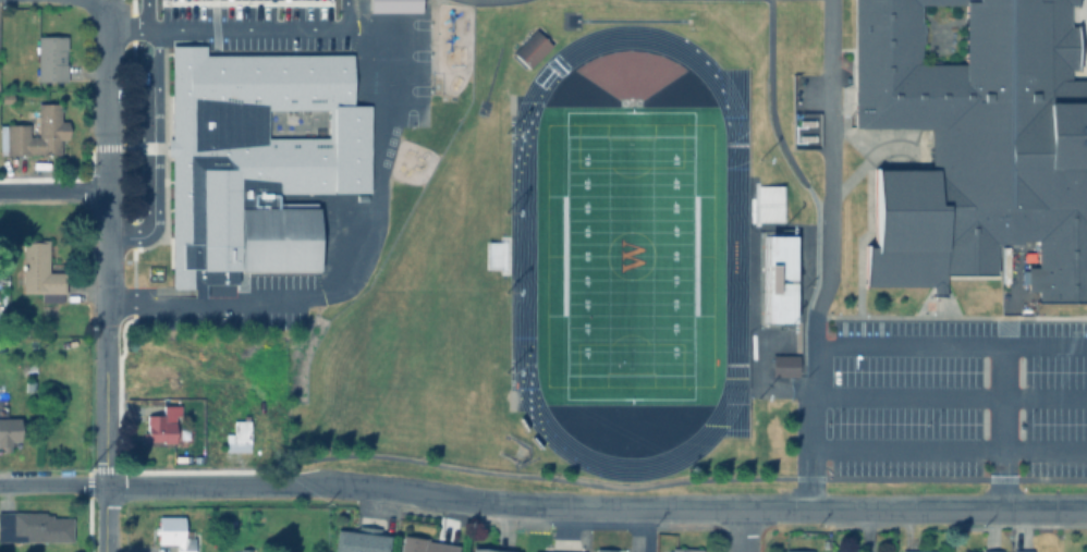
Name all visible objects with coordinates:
road: (93, 4)
parking lot: (264, 23)
building: (527, 49)
building: (52, 57)
building: (7, 98)
building: (14, 130)
road: (376, 144)
building: (976, 145)
road: (157, 152)
building: (252, 162)
road: (50, 192)
building: (767, 201)
road: (102, 246)
track: (518, 254)
road: (829, 255)
park: (628, 257)
building: (40, 271)
building: (777, 277)
stadium: (772, 280)
parking lot: (247, 308)
road: (949, 347)
building: (782, 366)
road: (949, 397)
parking lot: (957, 397)
building: (159, 424)
road: (1001, 427)
building: (8, 431)
building: (236, 433)
road: (949, 452)
road: (53, 484)
road: (596, 506)
road: (106, 518)
building: (34, 527)
road: (738, 530)
building: (170, 531)
building: (357, 539)
building: (420, 544)
building: (242, 549)
building: (487, 549)
building: (603, 549)
building: (680, 549)
building: (796, 550)
building: (844, 550)
building: (915, 550)
building: (989, 550)
building: (1021, 550)
building: (969, 551)

